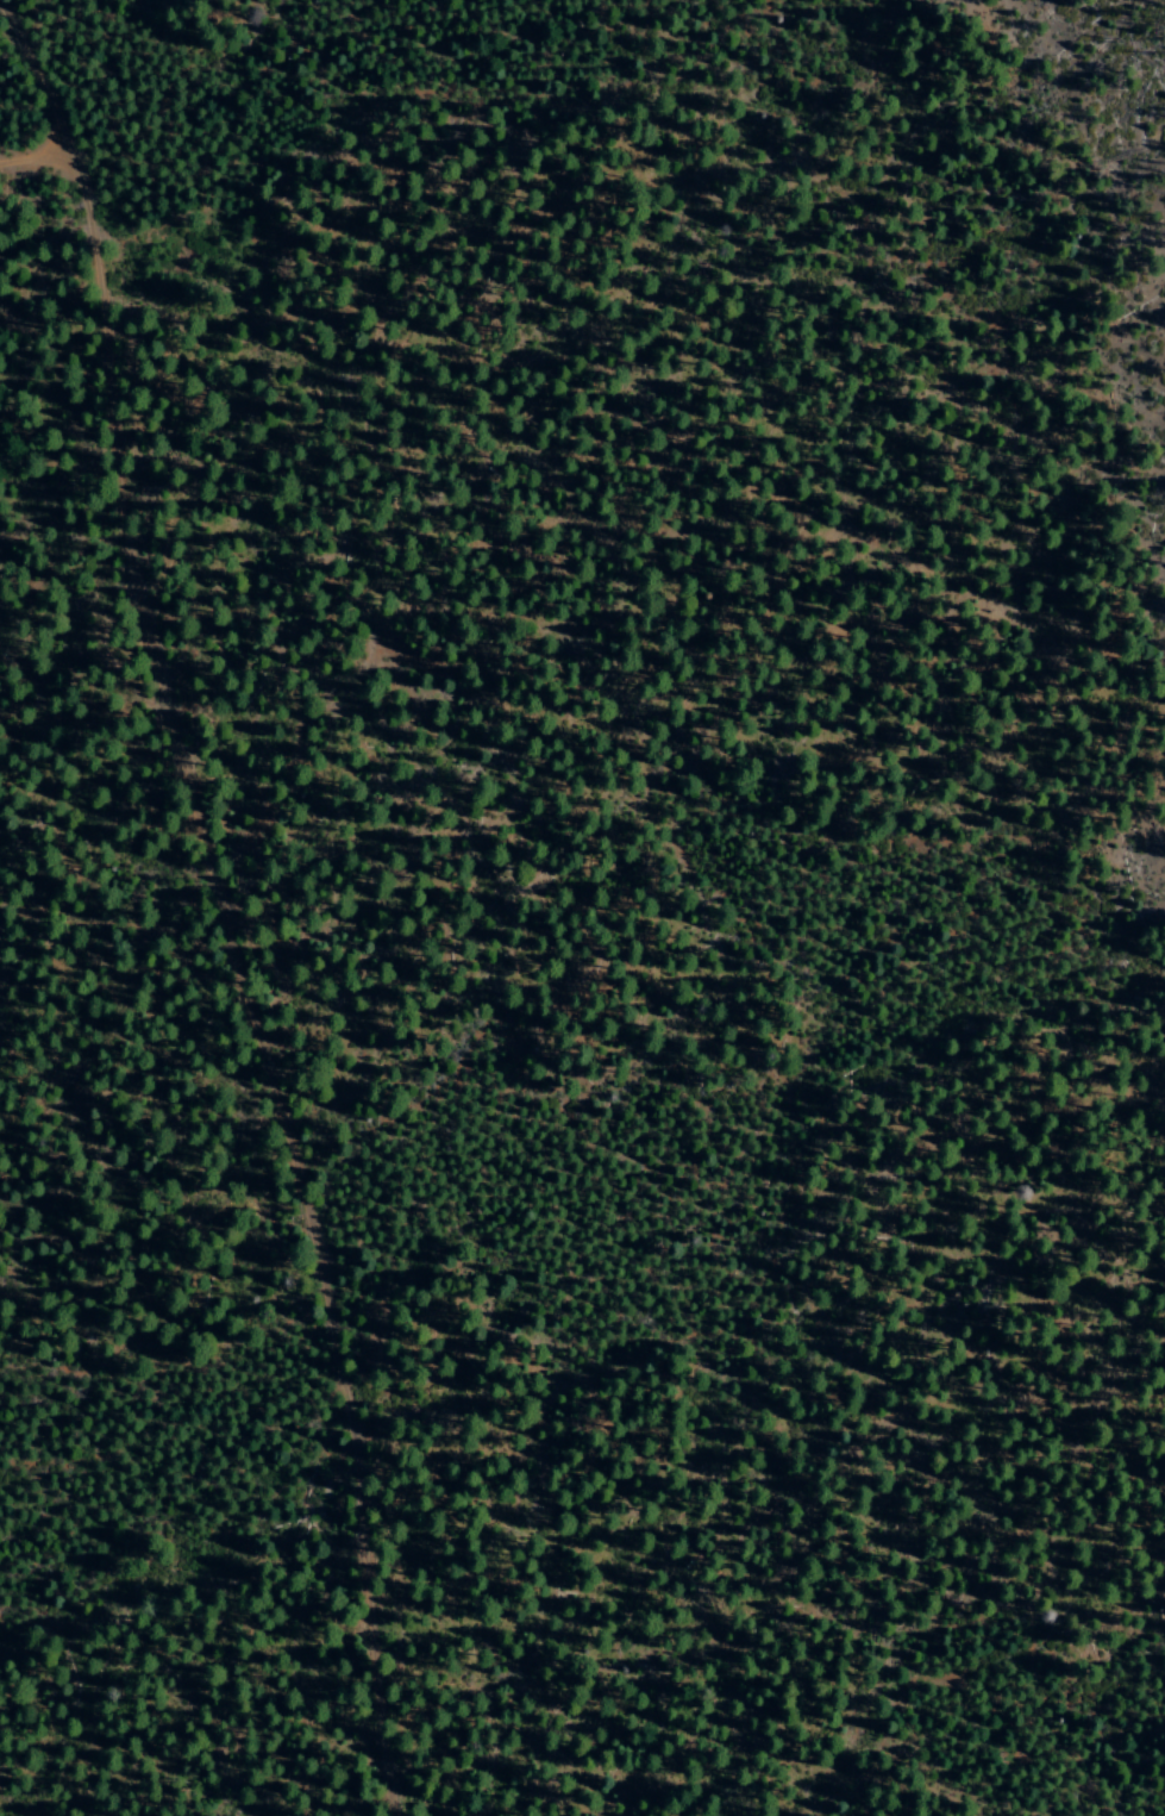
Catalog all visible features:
road: (225, 904)

